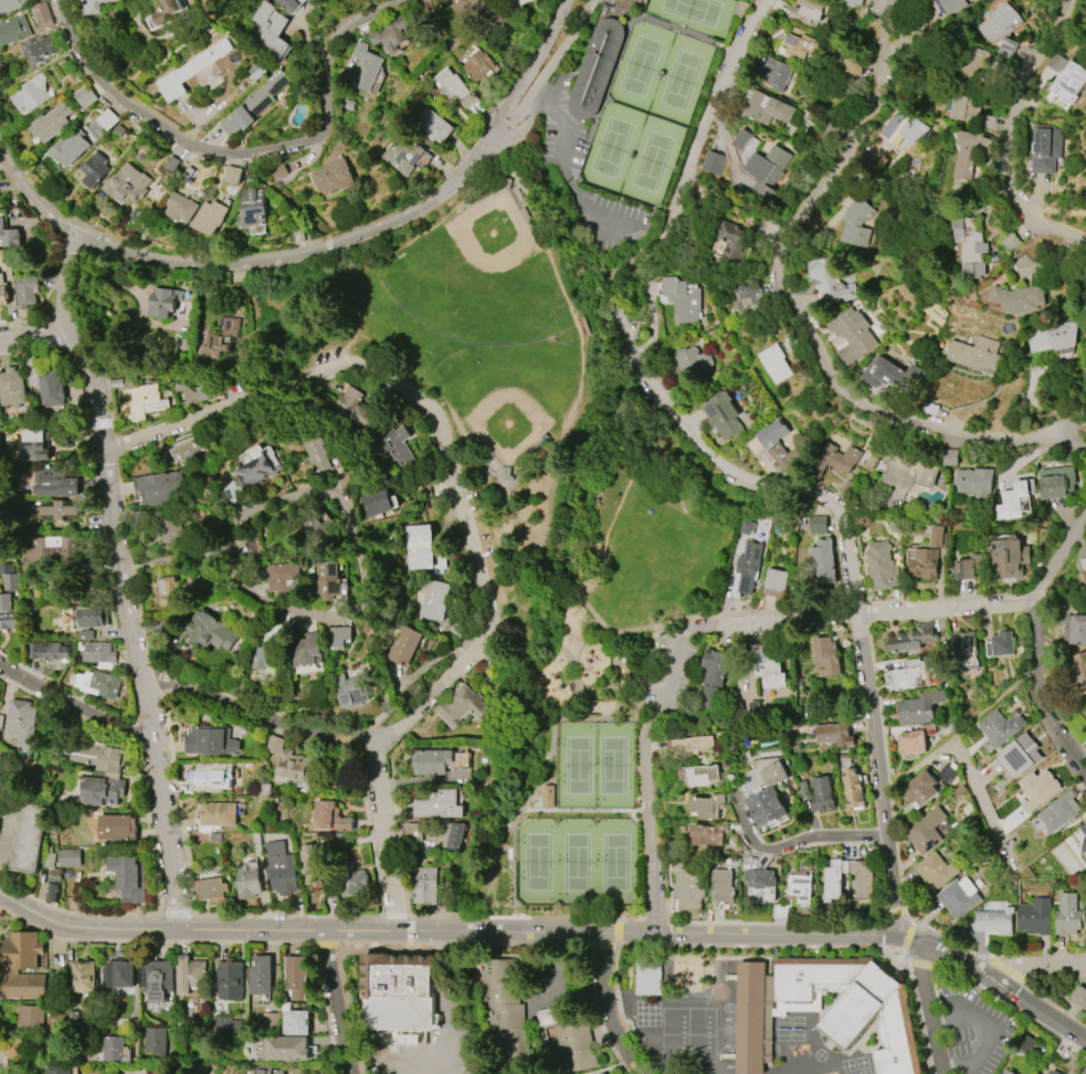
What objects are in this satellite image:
building: (510, 0)
building: (637, 0)
building: (843, 0)
building: (856, 1)
building: (10, 4)
building: (286, 4)
building: (953, 4)
building: (96, 6)
building: (466, 8)
building: (431, 9)
building: (169, 11)
building: (809, 12)
building: (43, 14)
park: (694, 14)
building: (999, 23)
building: (12, 30)
building: (268, 31)
building: (389, 35)
building: (798, 44)
building: (42, 48)
building: (972, 63)
building: (482, 66)
building: (363, 67)
building: (595, 67)
building: (854, 67)
building: (190, 69)
road: (38, 70)
road: (546, 70)
building: (777, 73)
building: (1064, 81)
building: (453, 87)
road: (552, 88)
building: (31, 93)
building: (86, 97)
building: (254, 104)
building: (768, 108)
building: (963, 108)
park: (645, 115)
building: (108, 119)
building: (52, 122)
building: (432, 125)
building: (898, 127)
building: (835, 133)
road: (1008, 138)
road: (693, 145)
building: (68, 148)
building: (1045, 148)
road: (239, 151)
building: (402, 154)
building: (964, 159)
building: (713, 162)
building: (94, 169)
building: (766, 173)
building: (232, 175)
building: (333, 176)
road: (563, 176)
building: (126, 183)
road: (32, 194)
building: (180, 208)
building: (251, 208)
building: (209, 217)
building: (858, 223)
road: (1072, 230)
park: (495, 232)
building: (9, 236)
road: (372, 238)
building: (732, 242)
building: (969, 245)
road: (66, 283)
building: (831, 283)
building: (25, 291)
building: (3, 293)
building: (682, 298)
building: (1019, 298)
building: (748, 301)
road: (792, 301)
building: (162, 302)
road: (24, 323)
road: (33, 333)
building: (852, 335)
building: (1051, 337)
building: (220, 340)
road: (32, 348)
road: (580, 349)
building: (976, 355)
building: (694, 364)
building: (774, 364)
building: (890, 373)
building: (46, 382)
building: (11, 388)
building: (193, 392)
road: (80, 400)
road: (109, 400)
building: (144, 400)
building: (352, 406)
building: (723, 415)
park: (514, 418)
road: (1075, 422)
road: (99, 424)
road: (443, 434)
road: (1075, 434)
road: (695, 438)
building: (34, 444)
road: (114, 445)
building: (780, 445)
building: (396, 446)
building: (188, 447)
building: (317, 454)
building: (951, 457)
building: (836, 460)
building: (260, 467)
building: (909, 470)
building: (53, 482)
building: (974, 482)
building: (1055, 482)
building: (159, 488)
building: (376, 502)
building: (1015, 502)
building: (60, 510)
road: (350, 515)
park: (539, 518)
building: (818, 524)
building: (315, 529)
building: (937, 538)
building: (255, 547)
building: (422, 549)
building: (51, 551)
building: (1006, 556)
road: (170, 559)
building: (823, 561)
building: (922, 561)
building: (881, 566)
building: (748, 568)
building: (963, 569)
building: (8, 577)
building: (284, 577)
building: (328, 580)
building: (777, 583)
road: (570, 588)
building: (167, 591)
building: (434, 600)
building: (7, 613)
building: (93, 617)
road: (864, 617)
building: (1076, 628)
road: (133, 629)
road: (637, 629)
building: (209, 631)
building: (338, 635)
road: (1038, 636)
building: (913, 638)
building: (1000, 644)
building: (404, 646)
building: (50, 650)
building: (308, 650)
building: (963, 650)
building: (97, 652)
building: (827, 654)
building: (266, 659)
building: (768, 667)
building: (1079, 668)
road: (675, 672)
building: (909, 673)
building: (714, 678)
building: (98, 683)
building: (350, 692)
road: (75, 704)
building: (462, 706)
building: (920, 708)
road: (255, 715)
building: (0, 720)
building: (21, 722)
road: (963, 726)
building: (1001, 727)
building: (835, 734)
road: (875, 734)
building: (210, 740)
building: (915, 743)
building: (688, 746)
building: (0, 747)
building: (95, 755)
building: (1020, 755)
road: (962, 758)
building: (430, 761)
building: (289, 764)
building: (105, 775)
building: (699, 775)
building: (212, 778)
building: (1038, 788)
building: (853, 789)
building: (921, 789)
building: (102, 791)
building: (823, 793)
building: (771, 797)
building: (436, 804)
building: (708, 805)
building: (1061, 810)
building: (218, 813)
building: (330, 819)
park: (584, 819)
road: (653, 823)
building: (116, 829)
building: (925, 830)
building: (1083, 832)
building: (709, 833)
building: (455, 835)
road: (150, 836)
road: (386, 836)
building: (30, 838)
road: (792, 846)
building: (1084, 850)
road: (181, 852)
building: (68, 857)
building: (310, 866)
building: (278, 868)
building: (935, 871)
building: (129, 877)
building: (246, 881)
building: (354, 883)
building: (762, 883)
building: (53, 884)
building: (424, 884)
building: (861, 884)
building: (687, 885)
building: (724, 886)
building: (800, 887)
building: (211, 888)
building: (958, 897)
road: (1, 909)
road: (173, 909)
road: (894, 912)
building: (1068, 915)
road: (397, 916)
road: (463, 917)
building: (1035, 917)
building: (994, 920)
road: (813, 923)
road: (412, 930)
road: (551, 931)
road: (149, 944)
road: (323, 944)
road: (478, 945)
road: (821, 947)
road: (995, 962)
road: (1038, 965)
building: (22, 966)
building: (120, 975)
building: (189, 975)
building: (260, 975)
building: (86, 977)
building: (296, 977)
building: (647, 977)
building: (157, 980)
building: (231, 981)
building: (401, 992)
building: (1079, 996)
road: (339, 1002)
road: (962, 1004)
road: (608, 1007)
road: (928, 1009)
building: (504, 1010)
road: (624, 1013)
building: (33, 1015)
building: (551, 1015)
building: (848, 1015)
road: (447, 1018)
building: (296, 1022)
road: (988, 1031)
building: (156, 1042)
building: (576, 1045)
building: (115, 1049)
building: (287, 1049)
road: (413, 1050)
road: (3, 1067)
building: (59, 1070)
building: (266, 1070)
building: (1004, 1072)
building: (1054, 1072)
building: (603, 1073)
building: (1038, 1073)
building: (1046, 1073)

